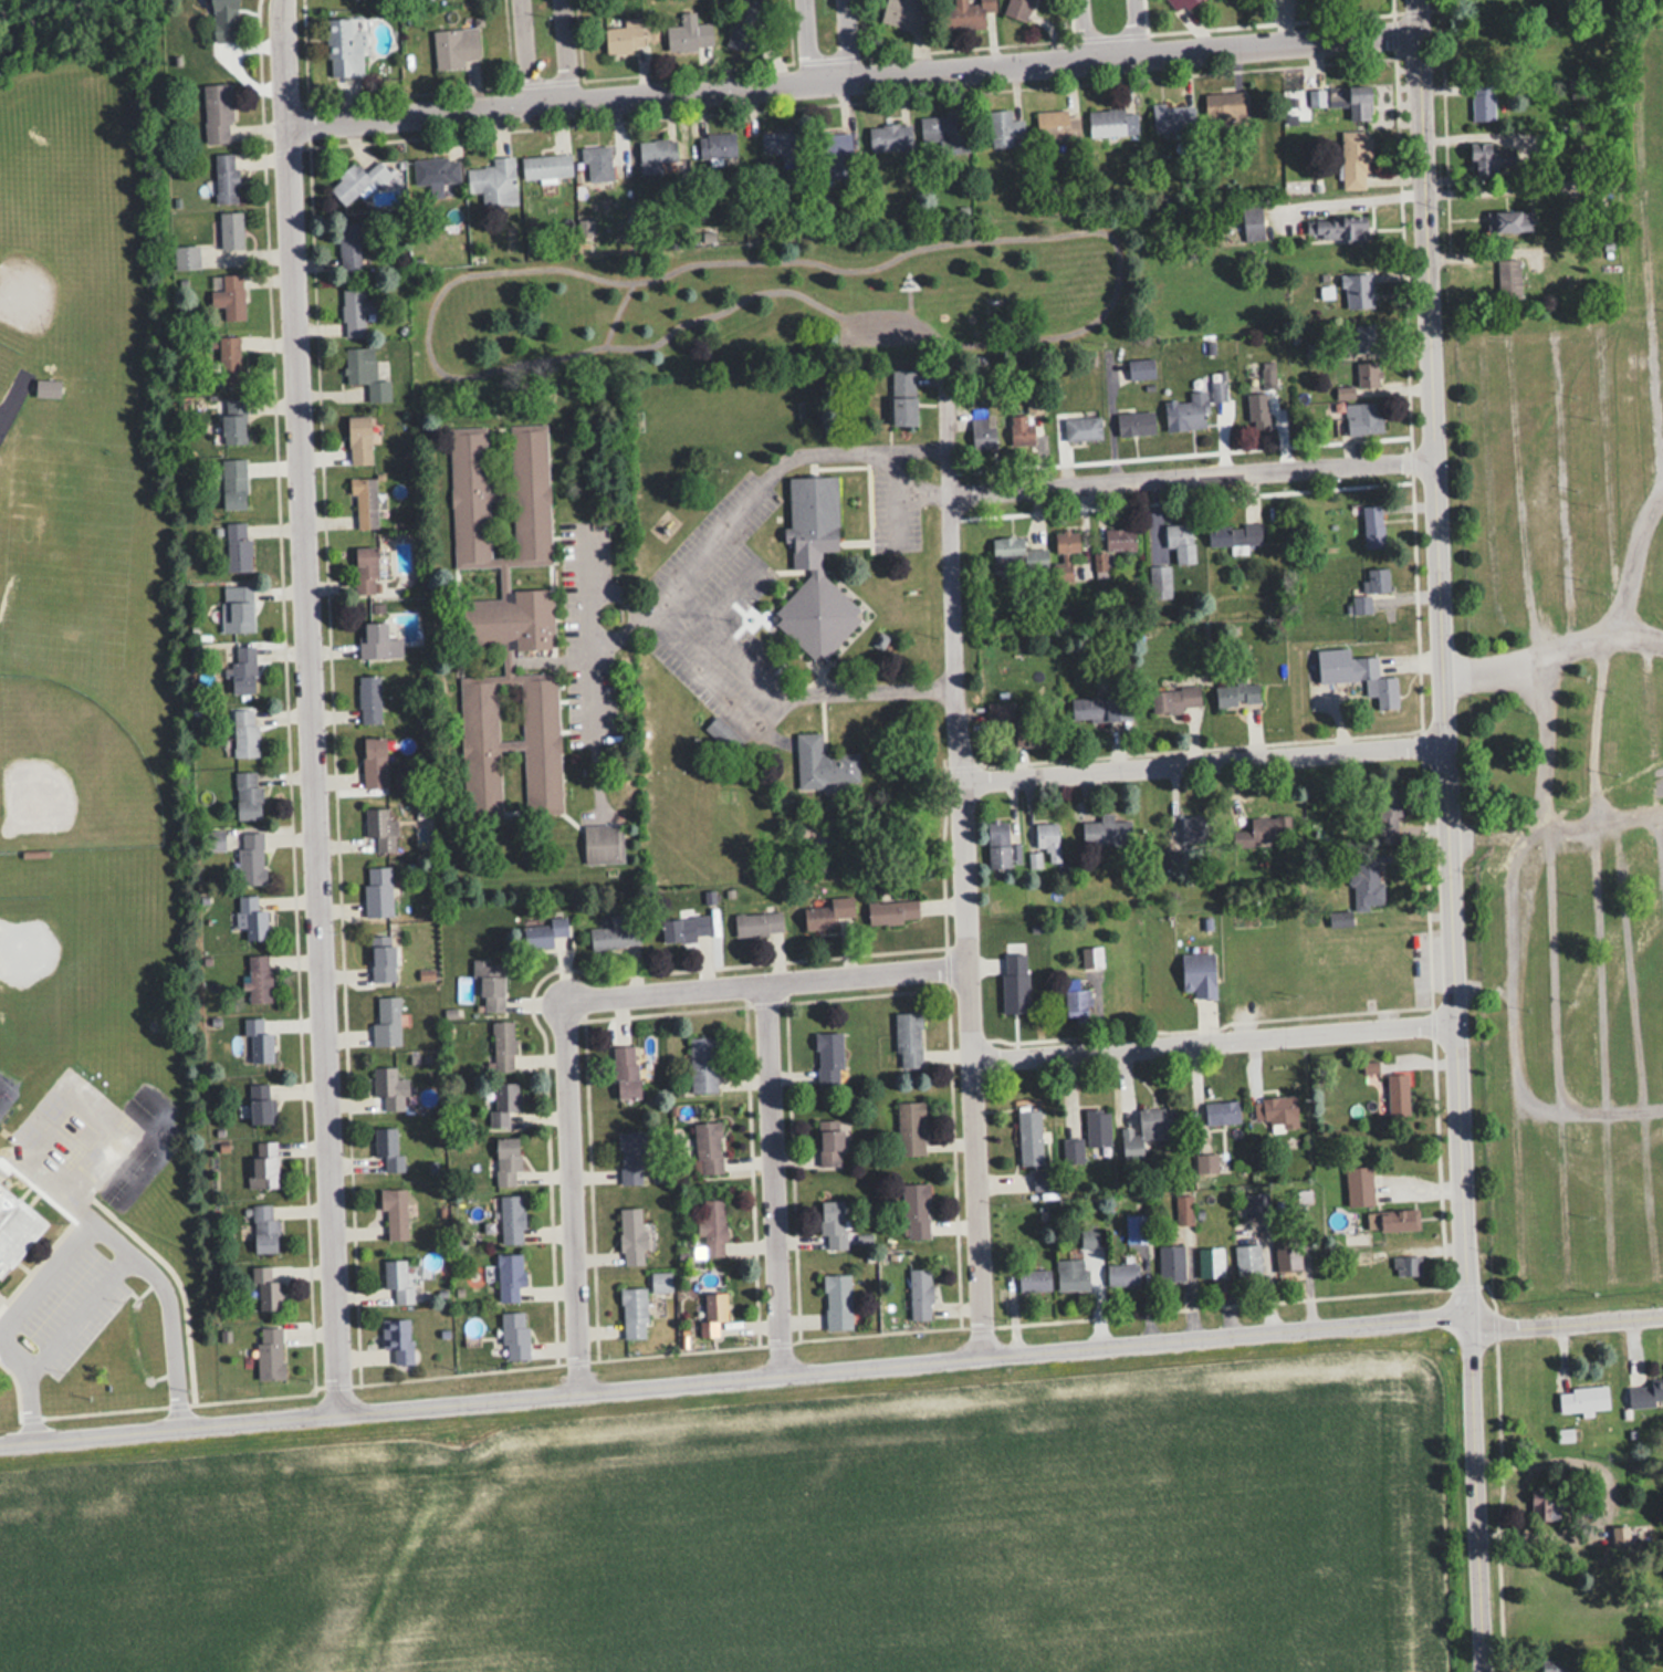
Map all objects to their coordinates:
building: (1181, 3)
building: (1016, 10)
building: (902, 13)
building: (966, 14)
building: (223, 20)
building: (744, 24)
road: (1146, 24)
road: (1082, 28)
building: (689, 34)
road: (846, 35)
building: (625, 36)
road: (802, 38)
road: (573, 46)
building: (343, 48)
building: (454, 48)
road: (529, 50)
road: (854, 71)
building: (1342, 100)
building: (1482, 102)
building: (1224, 107)
building: (216, 113)
building: (1172, 117)
building: (1111, 123)
building: (1055, 125)
building: (1003, 128)
building: (939, 134)
building: (889, 137)
building: (715, 144)
building: (778, 144)
building: (659, 150)
building: (835, 151)
building: (1489, 158)
building: (1355, 159)
building: (595, 160)
building: (544, 167)
building: (435, 173)
building: (224, 177)
building: (356, 181)
building: (493, 181)
road: (1359, 199)
building: (1509, 221)
building: (1251, 222)
building: (1335, 228)
building: (230, 229)
building: (348, 245)
building: (186, 255)
road: (1649, 261)
building: (1507, 279)
building: (1356, 290)
building: (230, 294)
park: (771, 302)
building: (354, 311)
building: (1363, 338)
building: (228, 360)
building: (1141, 368)
building: (365, 373)
building: (1364, 375)
building: (46, 387)
building: (902, 396)
building: (1256, 406)
building: (1186, 411)
building: (1362, 418)
building: (233, 421)
building: (1134, 422)
building: (1024, 426)
building: (1081, 428)
building: (982, 432)
building: (358, 439)
road: (1609, 472)
road: (1191, 473)
building: (233, 483)
road: (1565, 485)
road: (1523, 490)
building: (364, 501)
building: (1372, 525)
building: (1233, 533)
building: (1180, 540)
building: (1112, 545)
building: (237, 546)
building: (1065, 552)
building: (1015, 554)
road: (1632, 556)
building: (365, 568)
road: (681, 568)
building: (813, 568)
building: (1377, 578)
building: (1160, 581)
building: (238, 607)
building: (504, 623)
building: (377, 641)
road: (1550, 648)
building: (241, 669)
building: (1357, 673)
building: (1236, 694)
road: (1644, 696)
building: (368, 699)
building: (1173, 699)
road: (312, 707)
building: (1099, 708)
road: (773, 713)
building: (1032, 728)
road: (1592, 731)
building: (244, 733)
road: (1540, 742)
road: (1200, 760)
building: (374, 762)
building: (822, 764)
road: (1648, 785)
building: (247, 795)
road: (1651, 804)
building: (1387, 815)
building: (1192, 827)
road: (1594, 827)
building: (380, 828)
building: (1106, 829)
building: (1264, 829)
road: (1444, 836)
building: (213, 839)
building: (1047, 839)
building: (602, 843)
building: (1000, 844)
building: (250, 857)
building: (1035, 858)
road: (964, 869)
building: (1364, 881)
building: (377, 890)
building: (892, 911)
building: (825, 912)
building: (251, 916)
building: (757, 923)
building: (684, 928)
building: (542, 931)
building: (615, 932)
building: (1090, 955)
building: (383, 958)
building: (1197, 973)
building: (258, 978)
building: (488, 982)
road: (770, 982)
building: (1076, 1002)
building: (386, 1020)
road: (1516, 1030)
building: (908, 1039)
building: (257, 1041)
road: (1212, 1041)
building: (502, 1045)
road: (1636, 1049)
road: (1604, 1051)
building: (828, 1058)
road: (1559, 1059)
building: (702, 1064)
building: (1369, 1067)
building: (625, 1072)
building: (389, 1087)
building: (1397, 1094)
building: (260, 1104)
building: (503, 1105)
building: (1276, 1111)
building: (1221, 1112)
building: (1097, 1127)
building: (910, 1128)
building: (1147, 1130)
building: (1028, 1137)
building: (829, 1143)
building: (387, 1148)
building: (707, 1148)
building: (1071, 1152)
building: (630, 1158)
building: (506, 1161)
building: (263, 1163)
building: (1204, 1163)
road: (774, 1181)
building: (1040, 1181)
building: (1358, 1185)
road: (579, 1196)
building: (1256, 1204)
building: (914, 1210)
building: (394, 1211)
building: (511, 1219)
building: (1395, 1220)
building: (831, 1223)
building: (710, 1225)
building: (15, 1229)
building: (263, 1229)
building: (630, 1236)
building: (1089, 1239)
road: (127, 1252)
building: (1286, 1256)
building: (1247, 1262)
building: (1209, 1263)
building: (1171, 1264)
building: (1406, 1265)
building: (1070, 1274)
building: (509, 1275)
building: (1122, 1275)
building: (396, 1279)
building: (1033, 1281)
building: (659, 1282)
building: (264, 1288)
building: (919, 1293)
building: (836, 1300)
building: (632, 1312)
building: (712, 1313)
road: (1563, 1320)
building: (514, 1335)
building: (397, 1338)
building: (269, 1352)
road: (733, 1382)
road: (19, 1383)
building: (1645, 1393)
building: (1583, 1399)
building: (1546, 1504)
building: (1630, 1535)
building: (1550, 1670)

